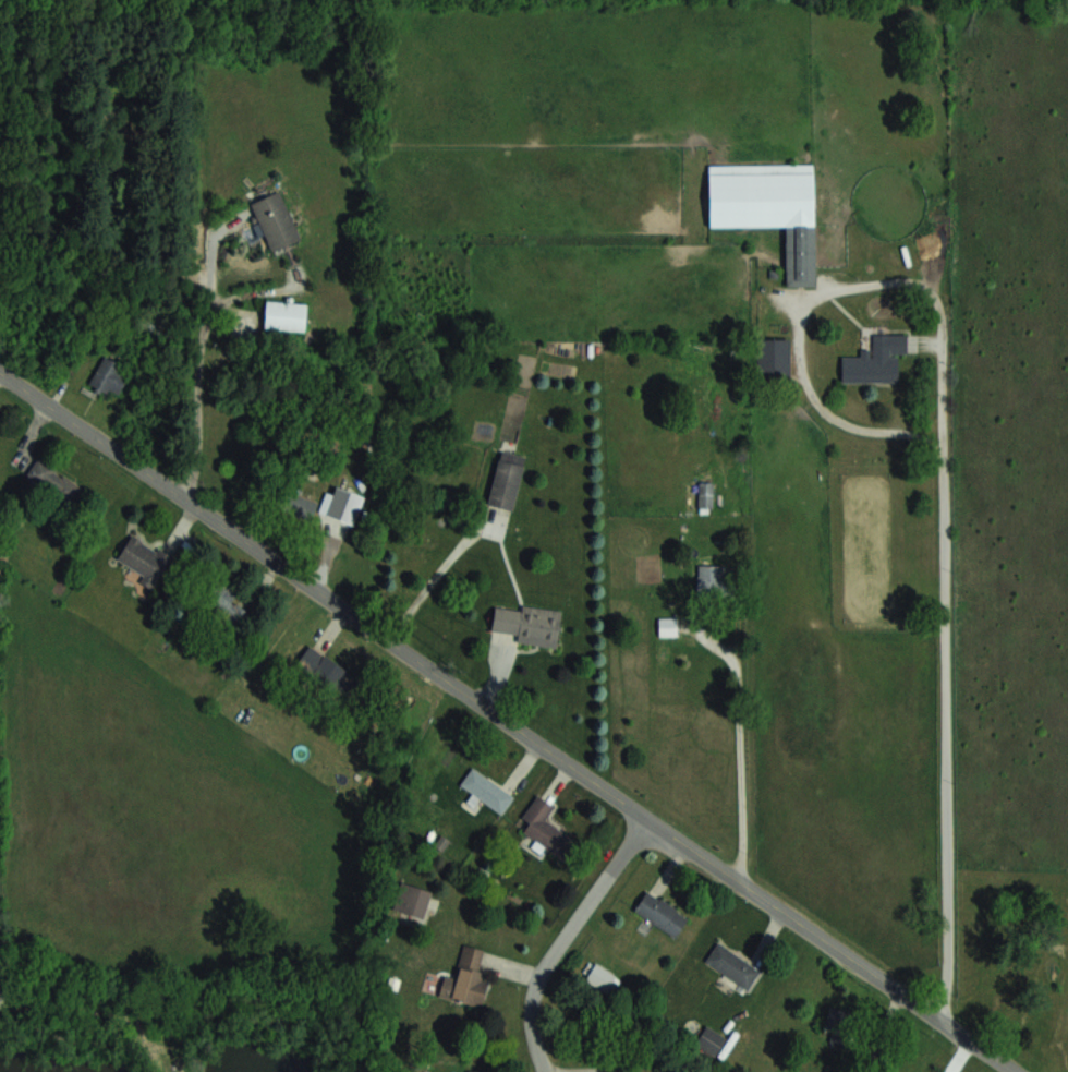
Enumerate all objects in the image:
building: (765, 208)
building: (275, 220)
road: (253, 294)
building: (284, 315)
road: (204, 357)
building: (773, 359)
building: (875, 360)
building: (109, 375)
road: (943, 466)
building: (506, 480)
building: (54, 481)
building: (704, 495)
building: (344, 505)
building: (298, 506)
building: (143, 559)
building: (709, 576)
road: (429, 580)
building: (226, 604)
building: (529, 624)
building: (667, 626)
building: (320, 667)
road: (739, 683)
road: (509, 722)
building: (485, 791)
building: (545, 828)
building: (411, 901)
building: (660, 913)
road: (563, 936)
building: (731, 965)
building: (465, 978)
road: (0, 983)
building: (709, 1039)
building: (477, 1071)

